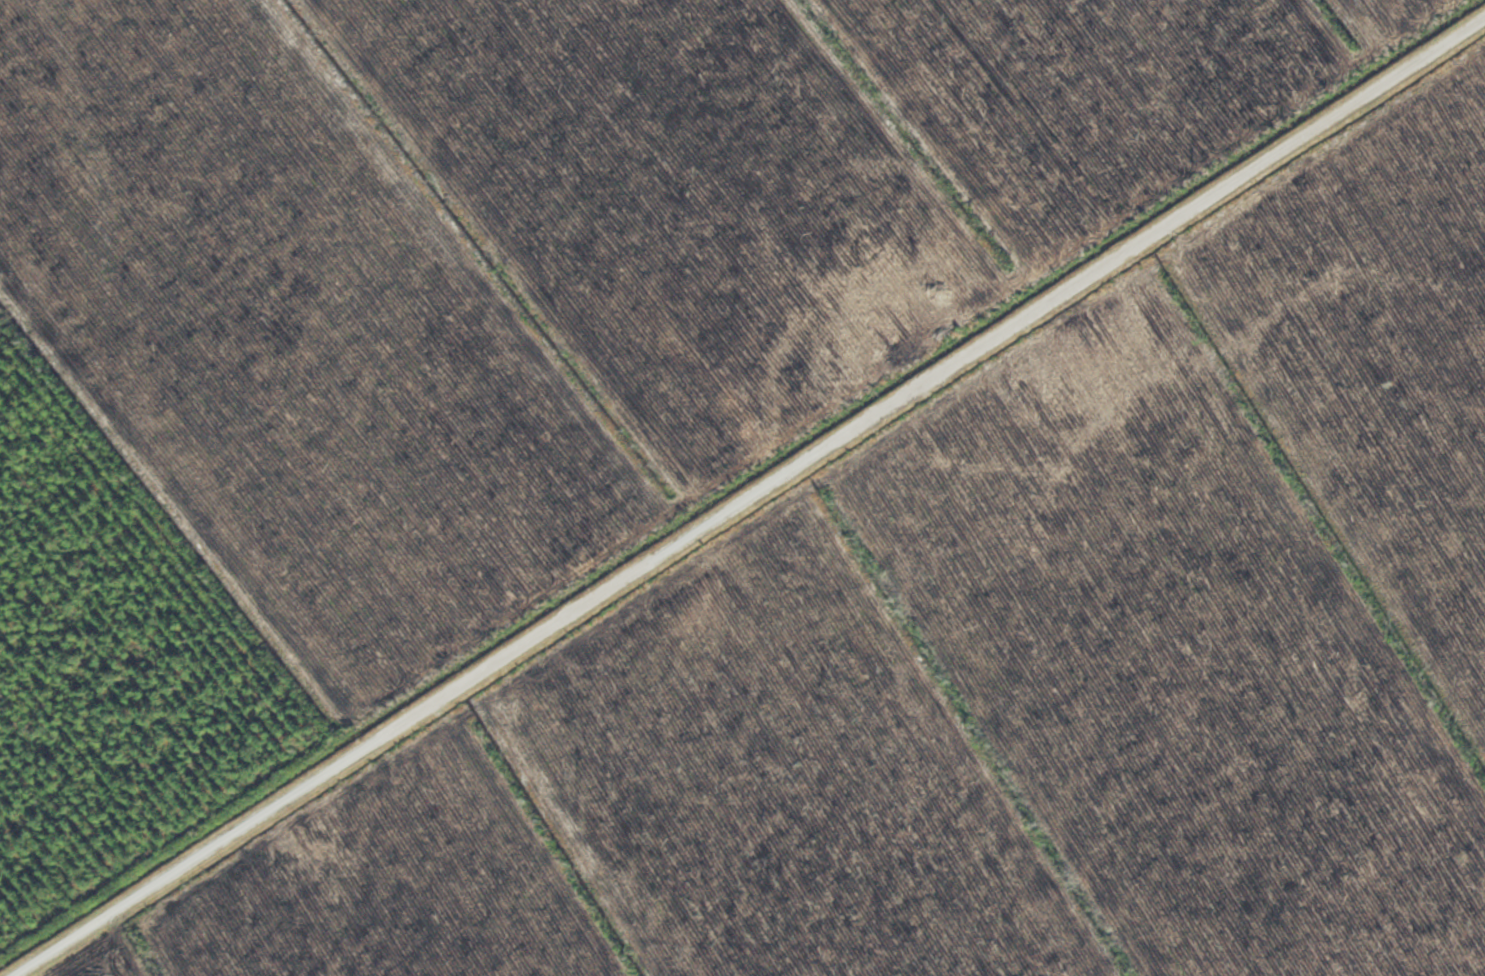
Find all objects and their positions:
road: (749, 496)

